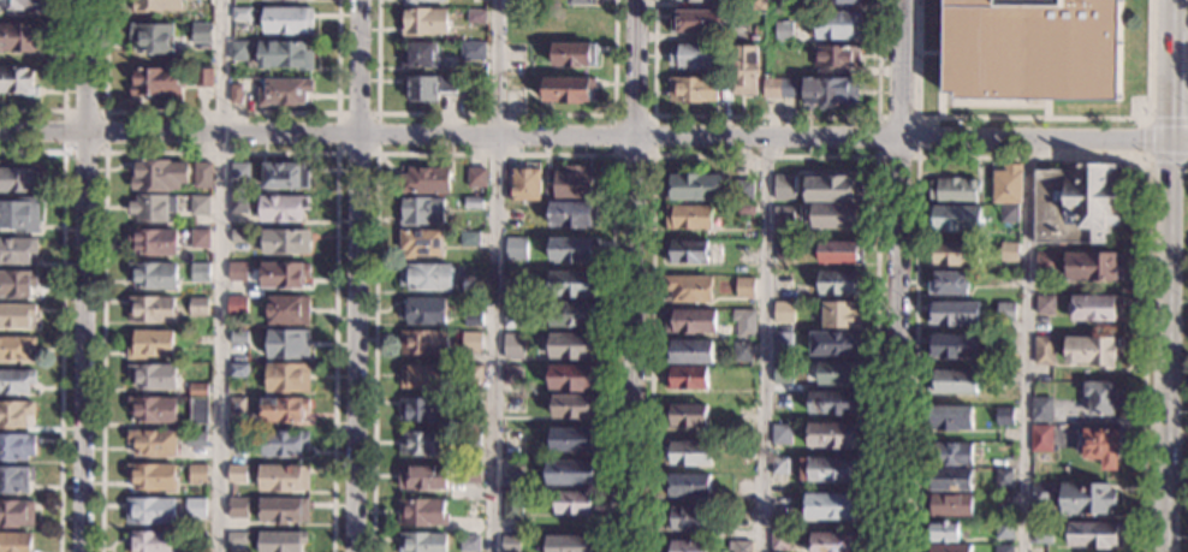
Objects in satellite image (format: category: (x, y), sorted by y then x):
building: (292, 0)
building: (697, 0)
building: (421, 1)
building: (840, 1)
building: (581, 2)
building: (20, 5)
building: (756, 5)
building: (156, 6)
building: (242, 13)
road: (1169, 14)
building: (476, 17)
building: (287, 20)
building: (424, 22)
building: (696, 23)
building: (836, 25)
building: (783, 30)
building: (201, 34)
building: (754, 35)
building: (18, 38)
building: (153, 38)
building: (1032, 49)
building: (239, 51)
building: (471, 52)
building: (285, 55)
building: (575, 55)
building: (420, 57)
building: (696, 57)
building: (834, 57)
building: (746, 71)
building: (202, 77)
building: (18, 82)
building: (155, 82)
road: (1169, 84)
road: (64, 87)
building: (430, 88)
building: (780, 88)
building: (568, 90)
building: (693, 90)
building: (726, 91)
building: (285, 93)
building: (513, 93)
building: (831, 93)
building: (236, 95)
road: (105, 112)
road: (221, 113)
road: (495, 114)
traffic signals: (1169, 114)
road: (613, 115)
road: (766, 117)
road: (916, 118)
road: (1033, 118)
road: (584, 135)
traffic signals: (1141, 137)
road: (1146, 138)
road: (1178, 138)
road: (220, 153)
road: (337, 153)
road: (493, 155)
road: (765, 156)
road: (1033, 156)
building: (818, 165)
building: (239, 172)
building: (158, 176)
building: (202, 176)
building: (285, 176)
building: (476, 178)
building: (17, 180)
building: (426, 182)
building: (525, 183)
building: (569, 185)
building: (1008, 185)
building: (693, 188)
building: (743, 190)
building: (832, 190)
building: (783, 191)
building: (955, 191)
building: (473, 203)
building: (238, 204)
building: (1076, 204)
building: (200, 206)
building: (153, 208)
building: (283, 208)
building: (746, 209)
building: (422, 212)
building: (571, 214)
building: (783, 214)
building: (1009, 214)
building: (20, 215)
building: (688, 216)
building: (837, 216)
building: (955, 219)
building: (239, 237)
building: (469, 238)
building: (200, 239)
building: (153, 242)
building: (285, 242)
building: (420, 243)
building: (515, 249)
building: (574, 250)
building: (785, 250)
building: (17, 251)
building: (685, 253)
building: (840, 253)
building: (1009, 253)
building: (955, 254)
building: (1046, 262)
building: (1095, 267)
building: (237, 272)
building: (198, 273)
road: (84, 275)
road: (220, 275)
building: (284, 275)
road: (356, 275)
road: (494, 275)
road: (634, 275)
road: (898, 275)
building: (153, 277)
building: (426, 278)
building: (839, 283)
building: (17, 284)
building: (572, 284)
building: (949, 284)
building: (744, 287)
building: (689, 289)
building: (1045, 305)
building: (198, 307)
building: (237, 307)
building: (1094, 308)
building: (150, 309)
building: (289, 310)
building: (423, 311)
building: (783, 313)
building: (1005, 313)
building: (574, 314)
building: (956, 314)
building: (16, 315)
building: (840, 315)
building: (511, 316)
road: (61, 320)
building: (689, 321)
building: (744, 324)
building: (477, 328)
building: (238, 337)
building: (424, 343)
building: (471, 343)
road: (760, 343)
building: (150, 344)
building: (289, 344)
building: (836, 344)
road: (1027, 344)
road: (1166, 344)
building: (513, 345)
building: (782, 345)
building: (1004, 345)
building: (574, 346)
building: (955, 346)
building: (16, 348)
building: (1045, 351)
building: (1093, 351)
building: (689, 352)
building: (742, 352)
building: (238, 372)
building: (473, 374)
building: (783, 374)
building: (839, 374)
building: (510, 375)
building: (153, 376)
building: (424, 376)
building: (287, 378)
building: (572, 378)
building: (687, 378)
building: (16, 381)
building: (1004, 381)
building: (952, 382)
building: (197, 390)
building: (1100, 398)
building: (836, 403)
building: (470, 406)
building: (574, 406)
building: (237, 408)
building: (153, 410)
building: (197, 410)
building: (281, 410)
building: (423, 410)
building: (1041, 410)
building: (14, 415)
building: (685, 416)
building: (744, 417)
building: (1005, 417)
building: (950, 419)
building: (780, 435)
building: (833, 435)
building: (1041, 439)
building: (195, 440)
building: (470, 440)
building: (575, 440)
building: (237, 441)
building: (153, 443)
building: (283, 443)
building: (423, 444)
building: (16, 446)
building: (1103, 446)
building: (688, 455)
building: (950, 455)
building: (994, 464)
building: (780, 467)
building: (831, 470)
building: (572, 473)
building: (197, 474)
building: (237, 474)
building: (470, 474)
building: (152, 477)
building: (422, 477)
building: (281, 479)
building: (1004, 479)
building: (16, 480)
building: (949, 481)
building: (688, 486)
building: (1043, 492)
building: (1087, 498)
building: (576, 503)
building: (780, 504)
building: (512, 506)
building: (949, 506)
building: (237, 508)
building: (831, 508)
building: (195, 509)
building: (471, 509)
building: (150, 511)
building: (283, 511)
building: (422, 512)
building: (16, 514)
building: (739, 518)
building: (687, 520)
building: (1004, 530)
building: (944, 532)
building: (1043, 534)
building: (1095, 535)
building: (236, 538)
building: (196, 539)
building: (280, 540)
building: (150, 541)
building: (779, 541)
building: (16, 542)
building: (422, 542)
building: (836, 542)
building: (469, 544)
building: (510, 544)
building: (569, 544)
building: (685, 546)
building: (739, 546)
building: (950, 548)
building: (1004, 548)

